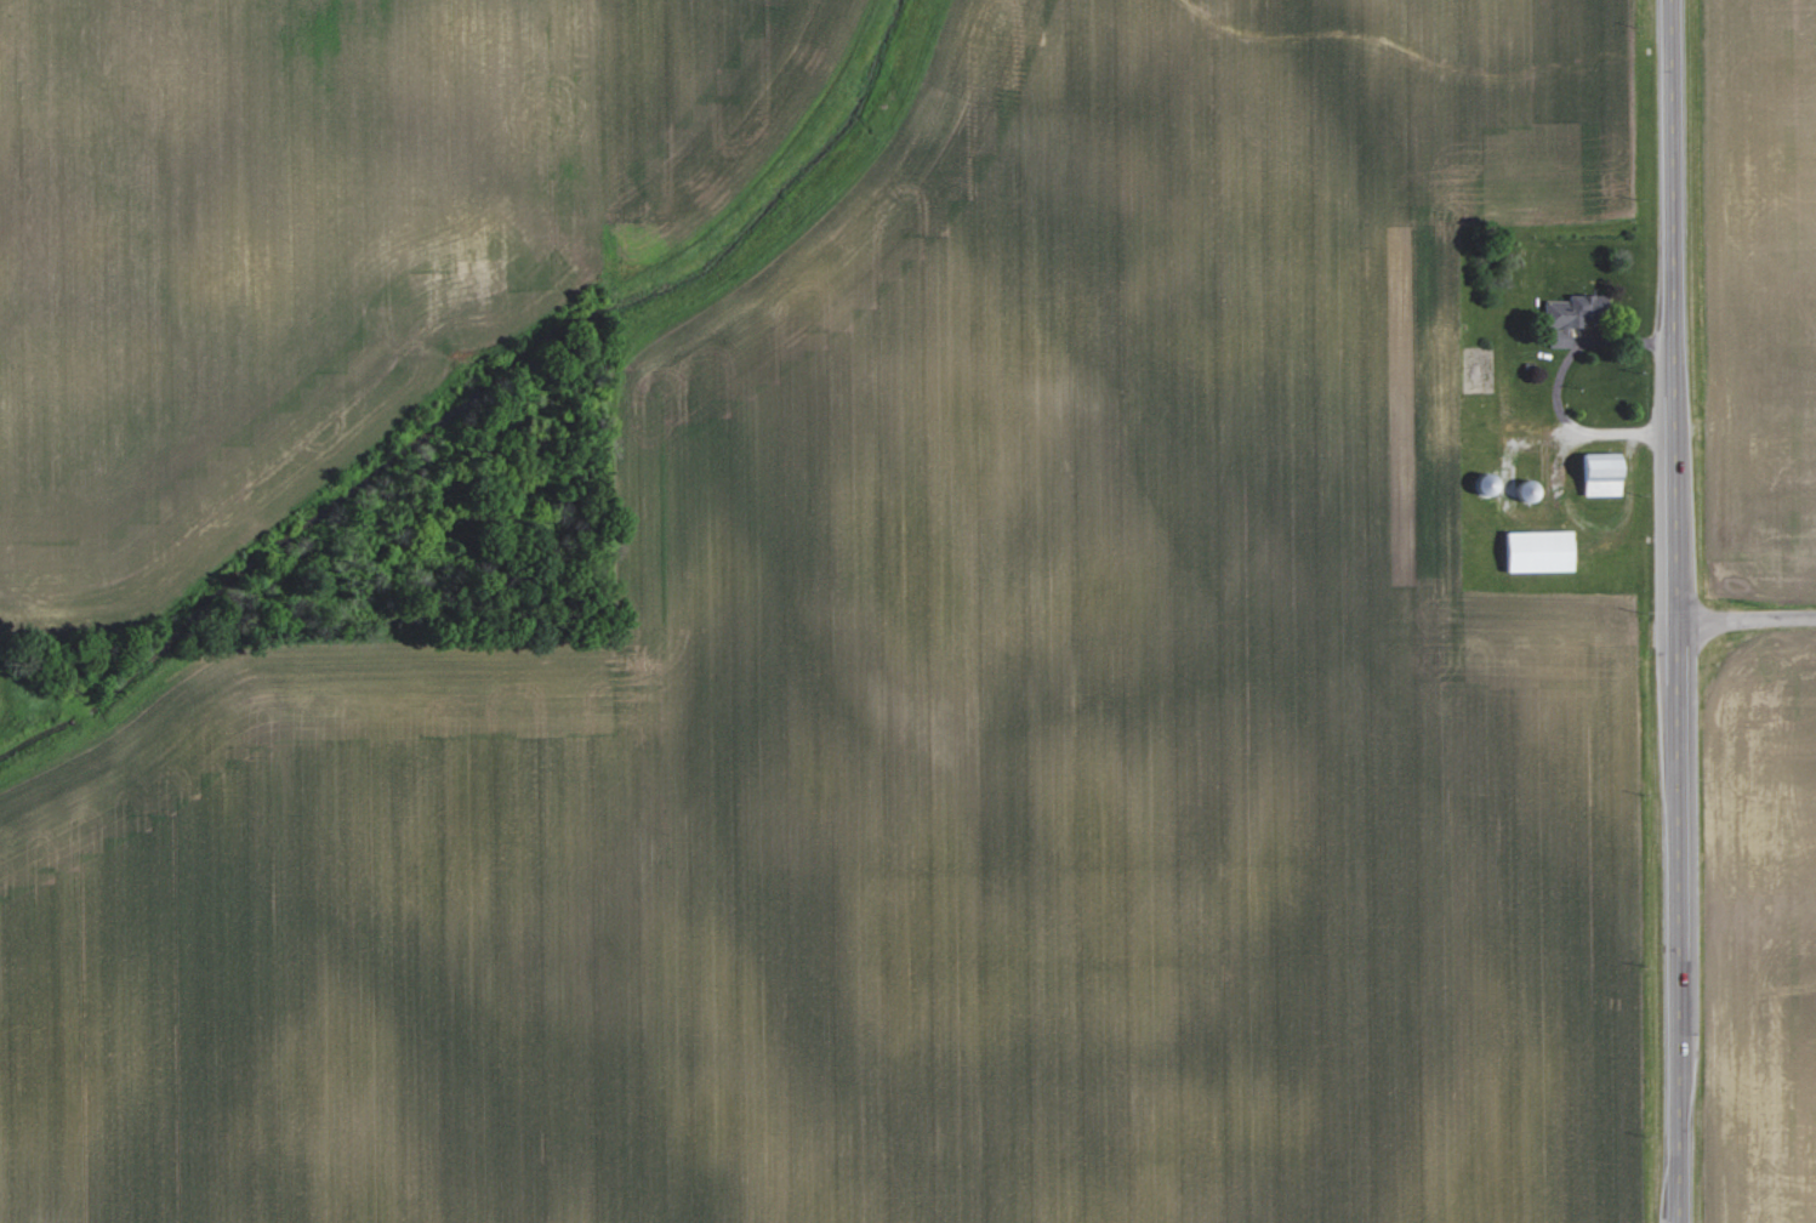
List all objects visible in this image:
building: (1569, 315)
road: (1556, 386)
building: (1599, 473)
building: (1537, 551)
road: (1675, 610)
road: (1746, 627)

